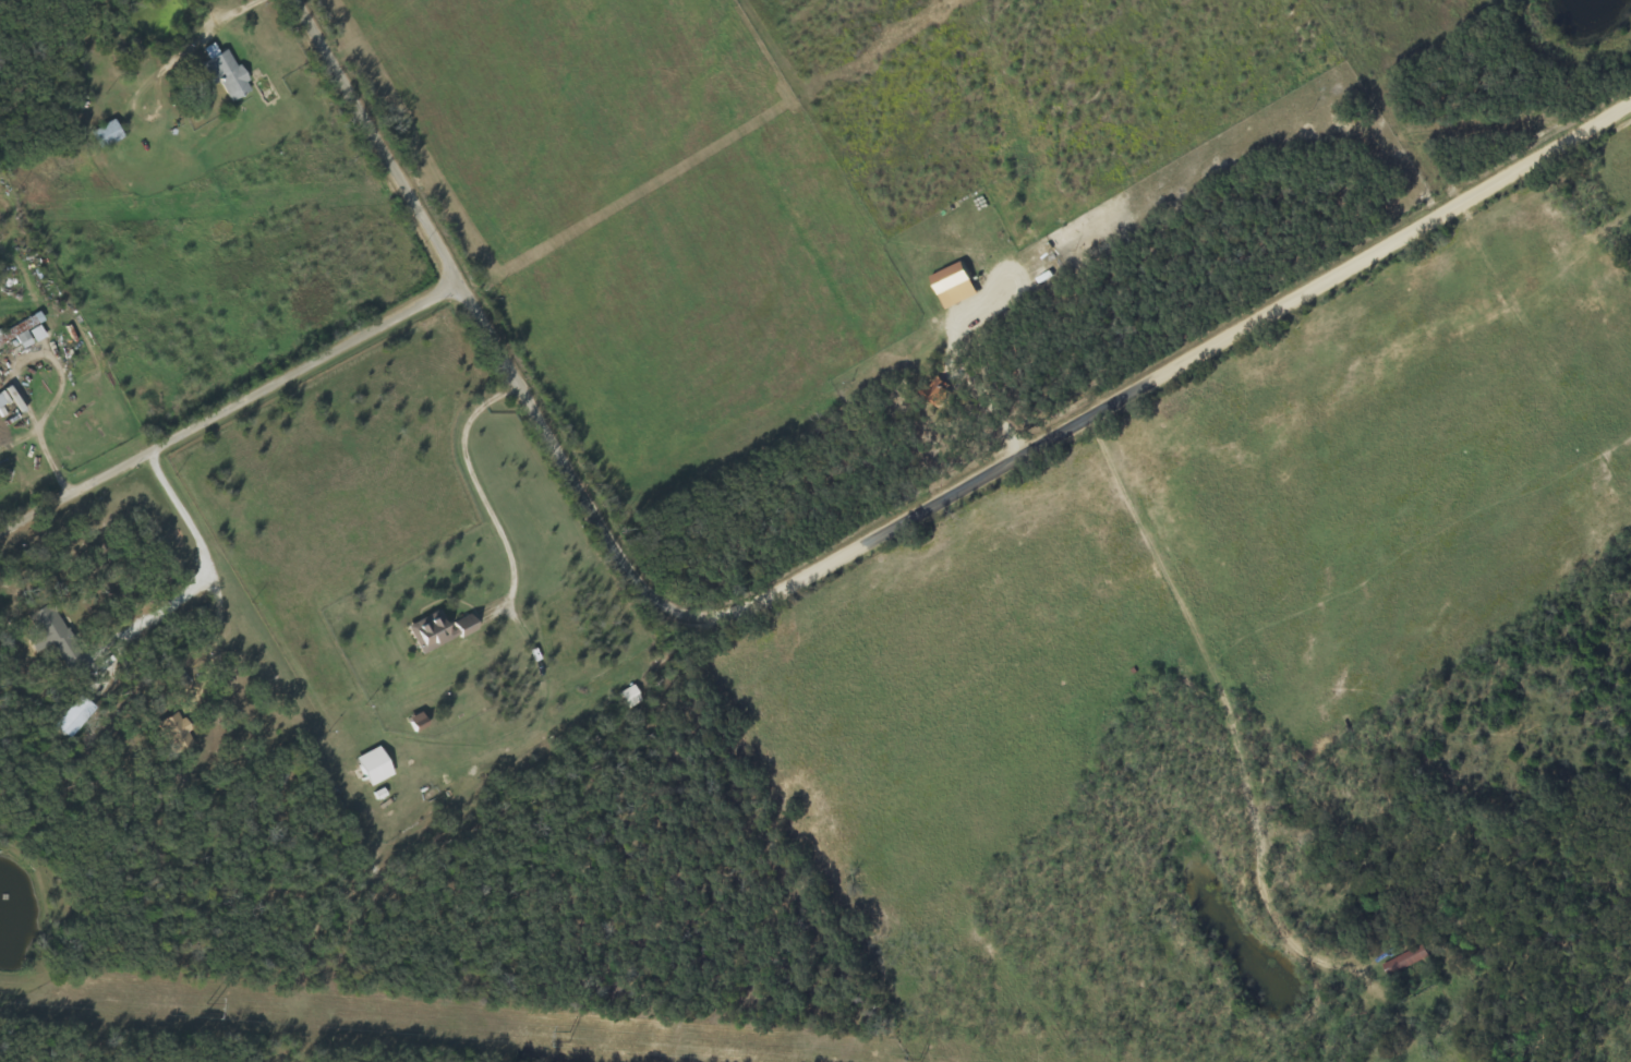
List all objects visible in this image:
building: (223, 72)
building: (106, 134)
building: (951, 286)
building: (24, 333)
building: (933, 394)
building: (9, 402)
road: (229, 410)
road: (839, 559)
building: (435, 632)
building: (56, 640)
building: (74, 717)
building: (179, 733)
building: (371, 768)
road: (283, 771)
building: (1405, 962)
power tower: (210, 1007)
power tower: (566, 1036)

